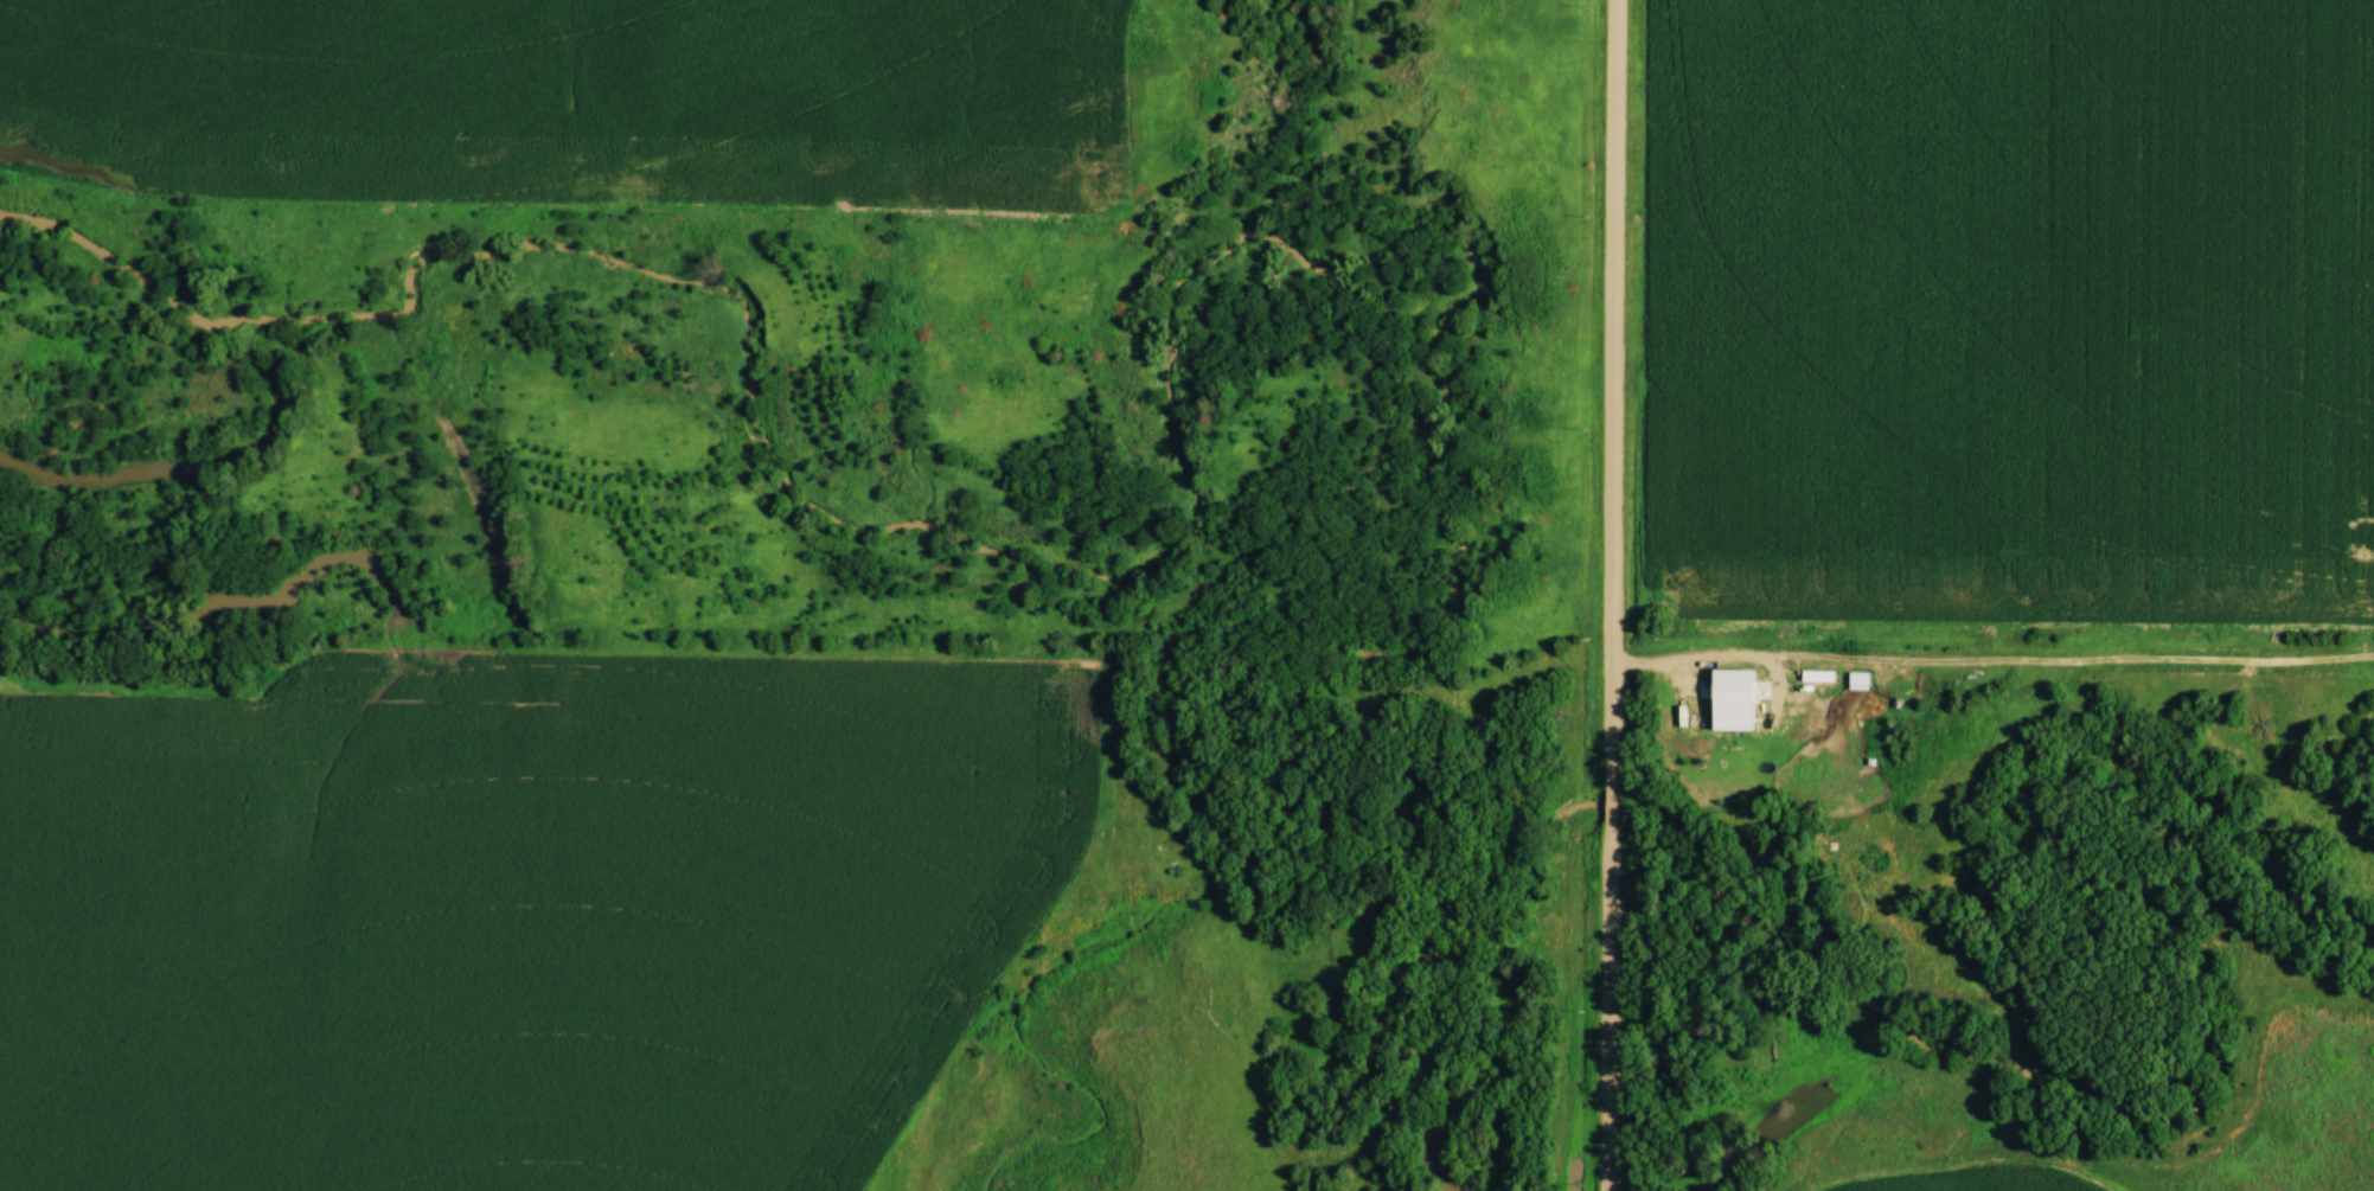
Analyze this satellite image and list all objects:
river: (1461, 309)
river: (275, 388)
road: (1618, 393)
building: (1834, 699)
building: (1736, 706)
road: (1612, 805)
road: (1615, 1006)

